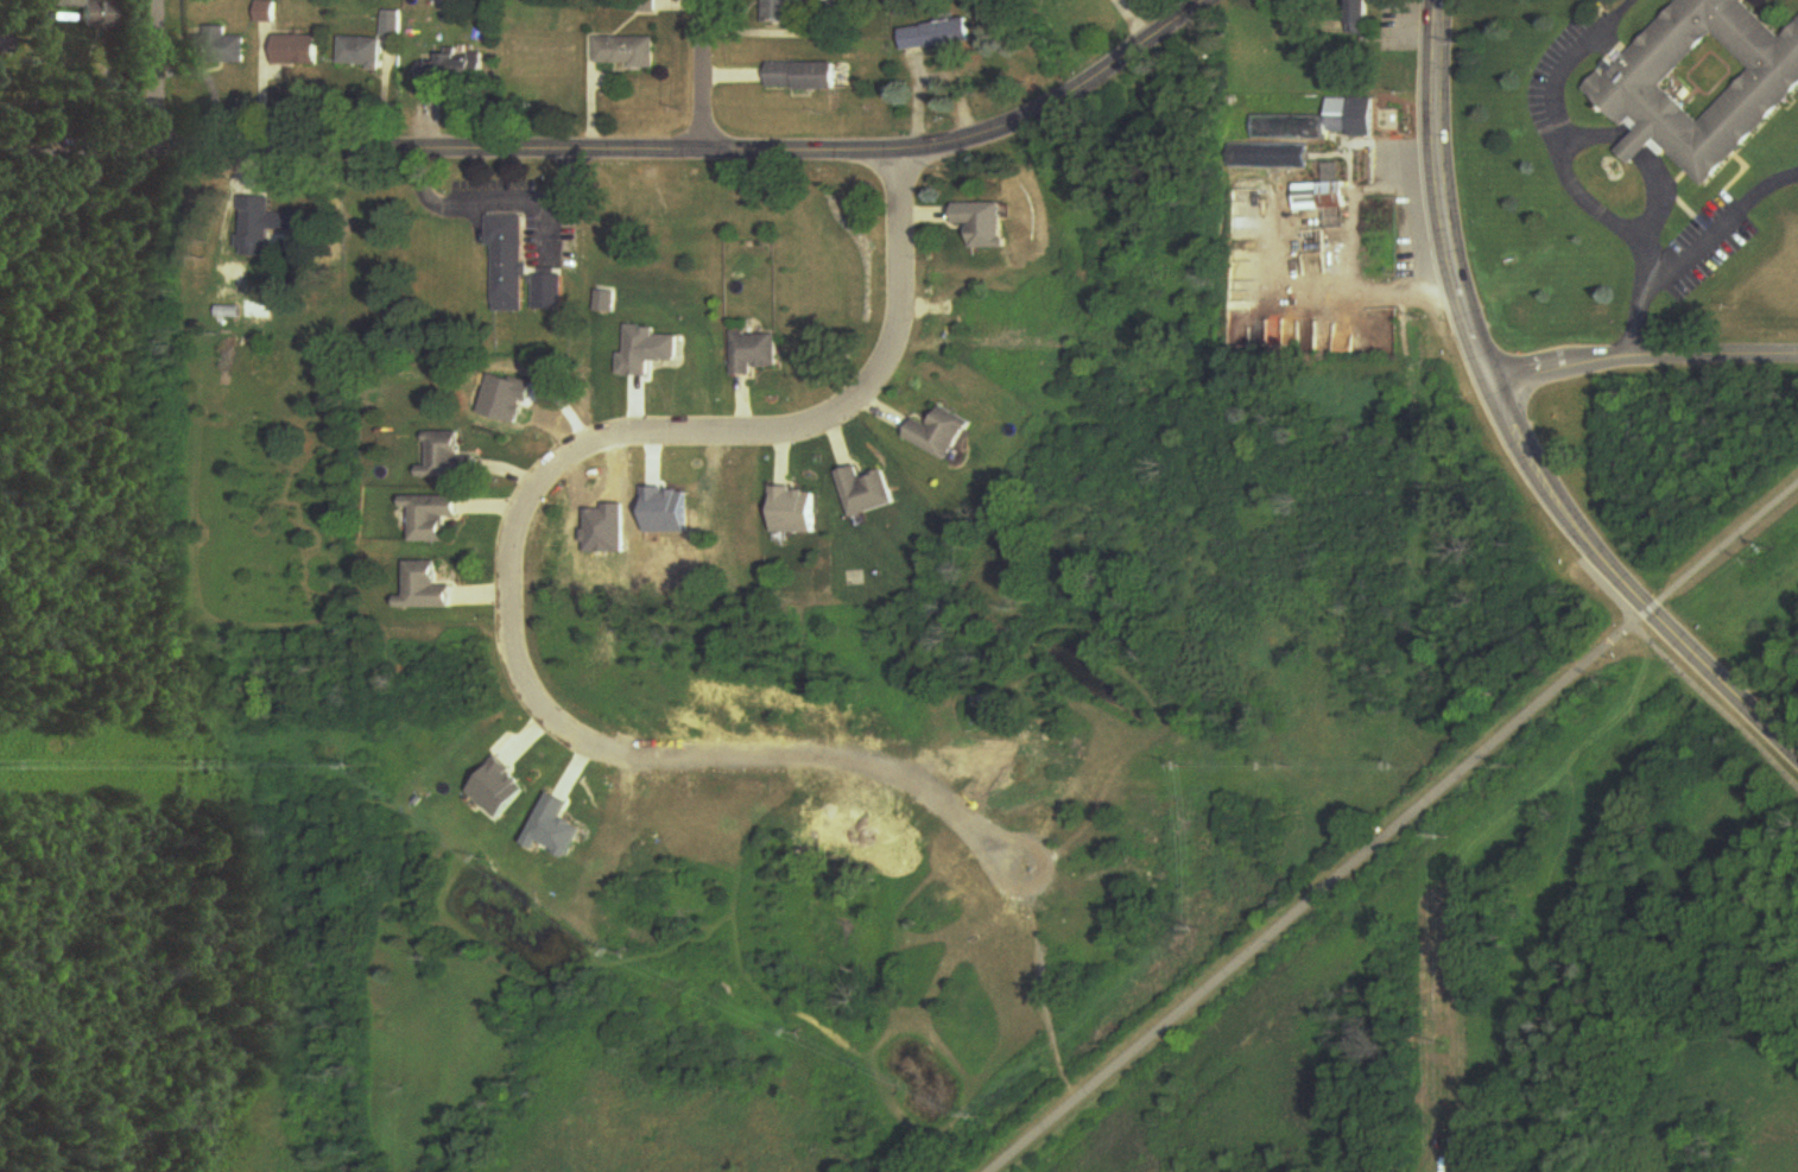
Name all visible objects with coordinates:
building: (71, 4)
road: (1619, 5)
building: (647, 7)
building: (780, 11)
building: (100, 17)
building: (1360, 17)
building: (937, 36)
building: (4, 40)
building: (374, 44)
building: (220, 47)
building: (299, 50)
building: (628, 51)
building: (467, 63)
road: (702, 76)
road: (32, 77)
building: (805, 77)
road: (154, 78)
building: (1705, 80)
building: (1319, 121)
road: (1557, 145)
road: (1641, 148)
road: (627, 153)
building: (1267, 157)
building: (1322, 191)
road: (1437, 195)
road: (489, 196)
road: (1724, 216)
building: (983, 223)
building: (260, 226)
building: (507, 260)
building: (549, 293)
road: (1642, 311)
building: (755, 353)
road: (1642, 361)
building: (941, 435)
building: (448, 458)
building: (867, 492)
building: (794, 511)
building: (433, 518)
road: (1721, 544)
road: (501, 568)
road: (1625, 584)
building: (426, 589)
road: (1711, 707)
road: (1316, 889)

